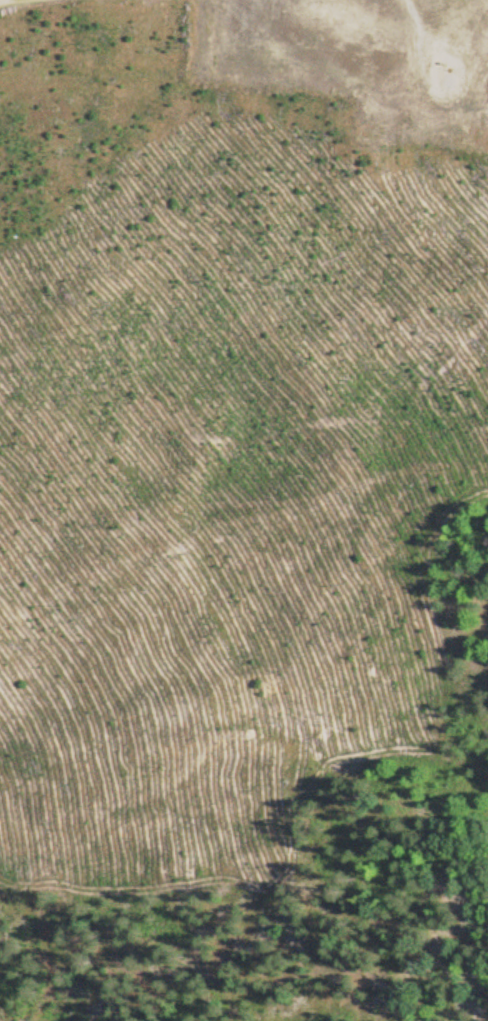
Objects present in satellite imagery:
road: (22, 2)
petroleum well: (443, 84)

